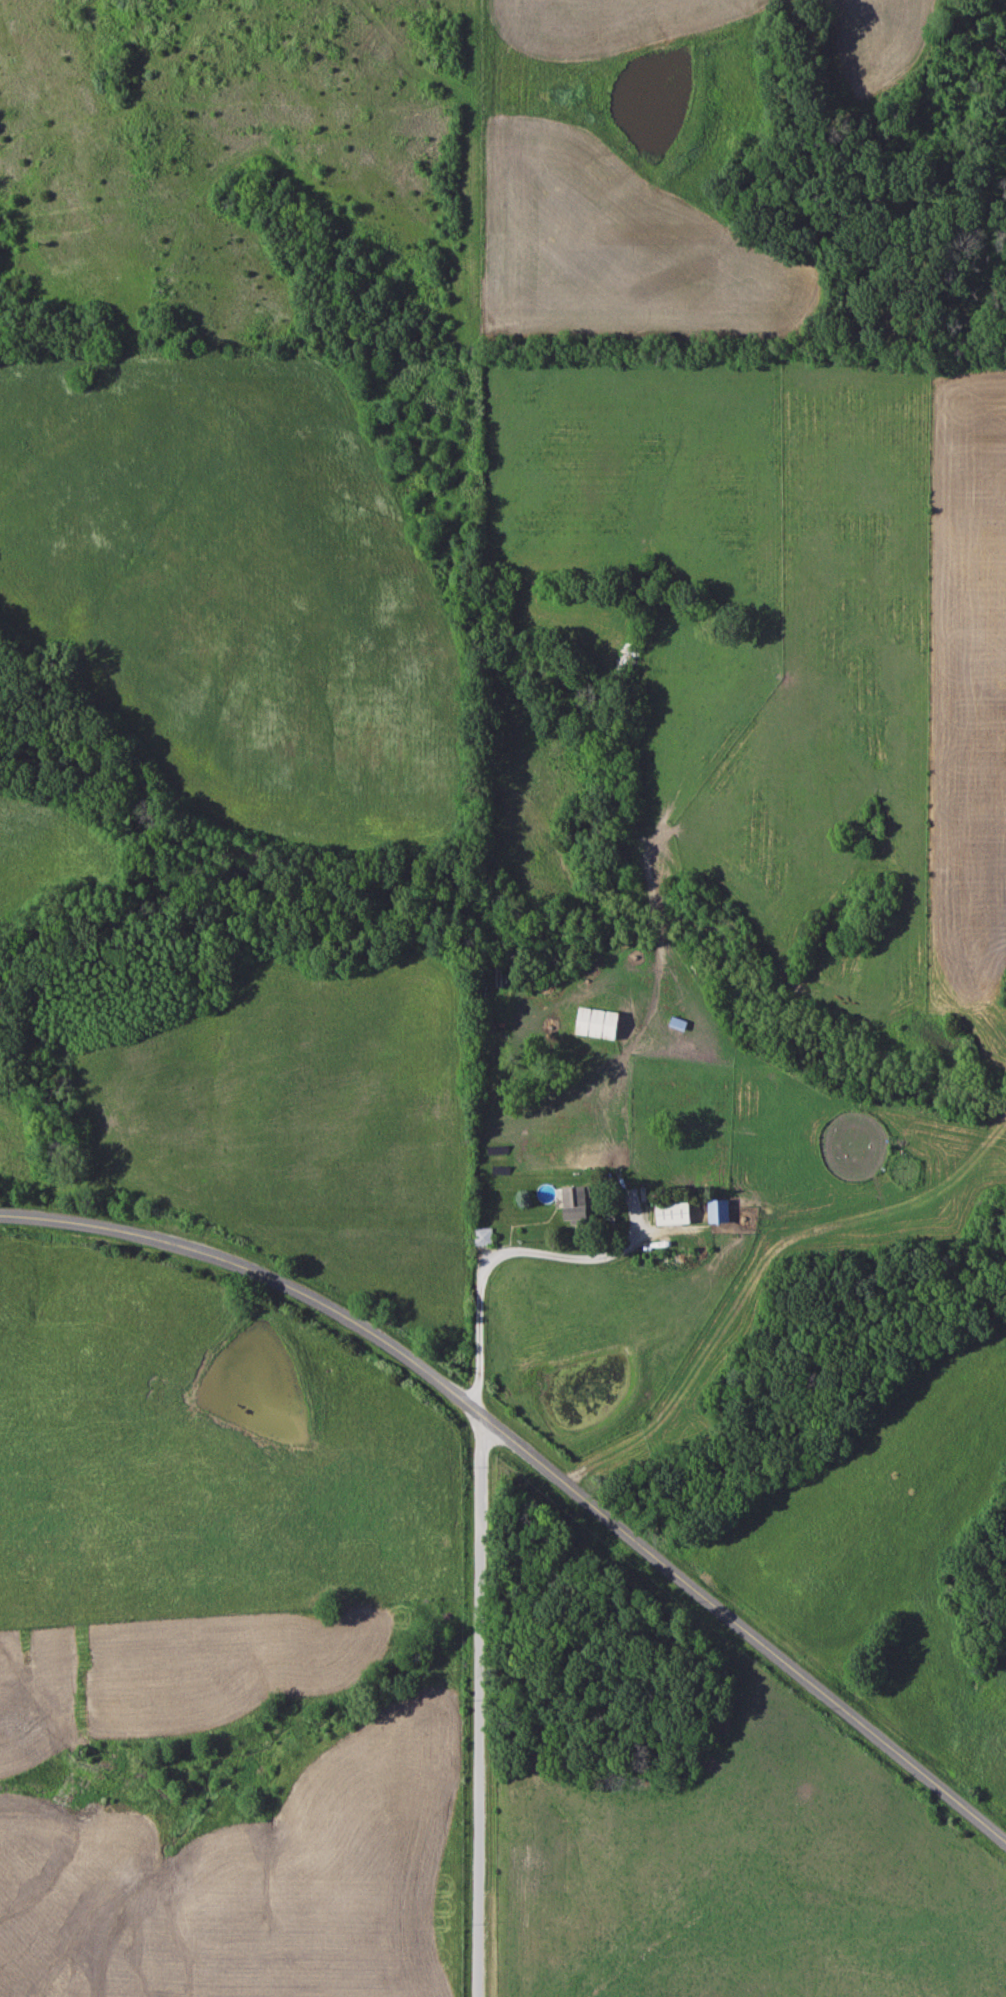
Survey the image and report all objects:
building: (603, 1024)
building: (579, 1206)
building: (911, 1207)
building: (724, 1212)
building: (677, 1214)
building: (485, 1237)
road: (491, 1256)
road: (538, 1461)
road: (480, 1705)

